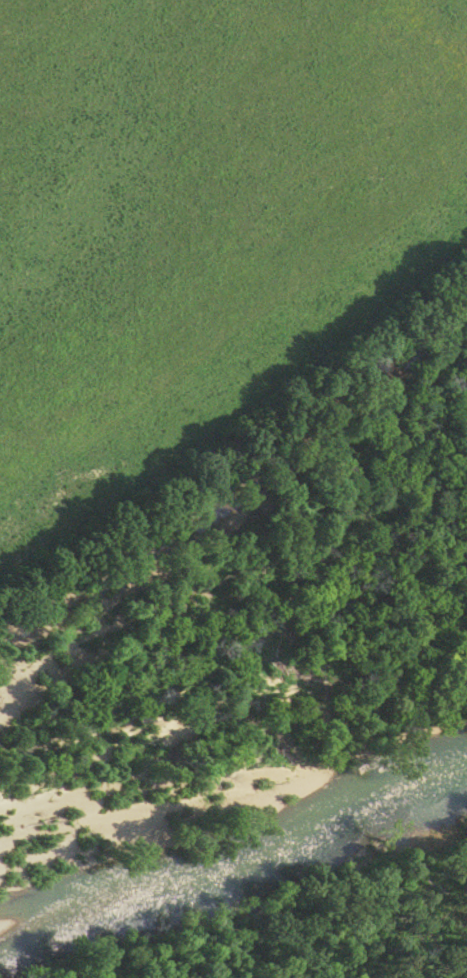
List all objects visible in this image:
river: (233, 880)

